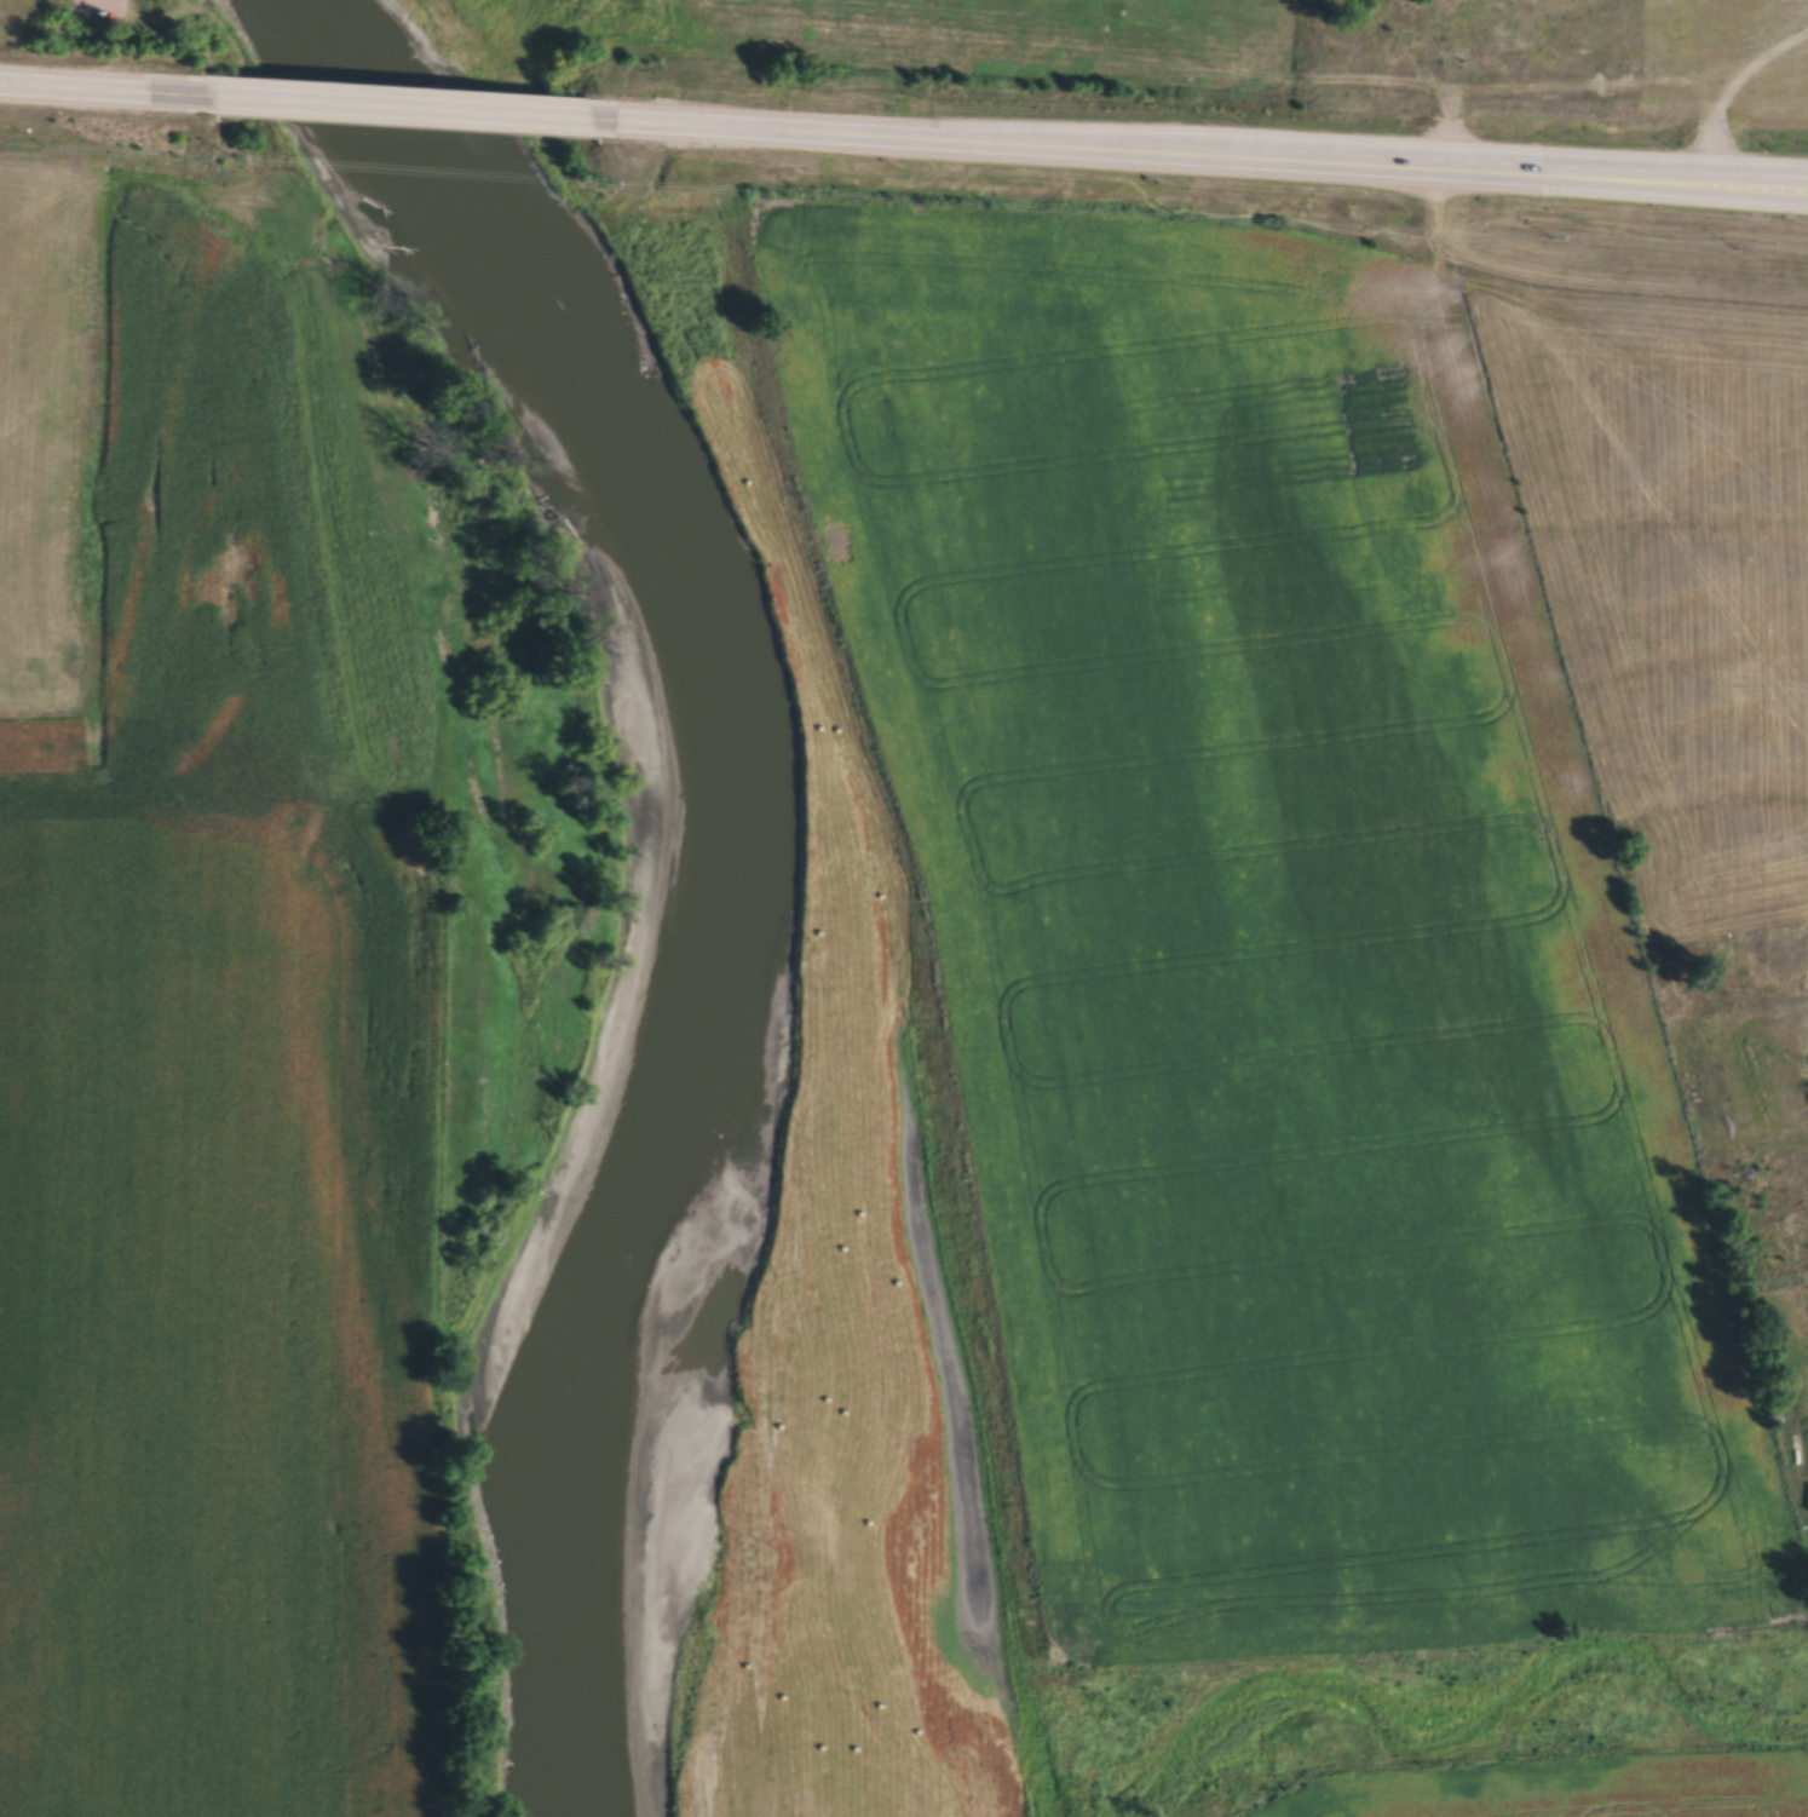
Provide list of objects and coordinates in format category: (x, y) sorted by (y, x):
road: (91, 91)
road: (402, 110)
road: (897, 139)
road: (1490, 174)
road: (1787, 189)
river: (710, 862)
crop: (1267, 943)
crop: (213, 1323)
crop: (1564, 1788)

